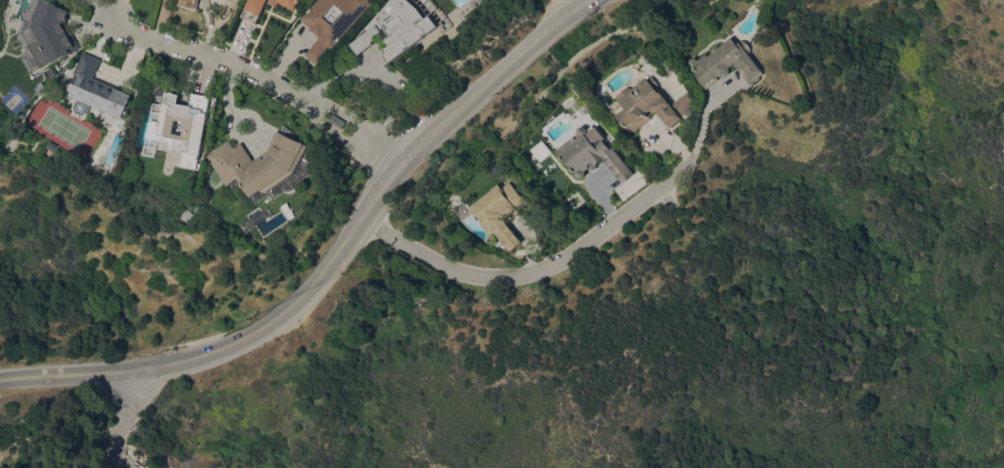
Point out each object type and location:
building: (188, 3)
building: (290, 3)
building: (256, 7)
road: (159, 19)
building: (332, 23)
building: (396, 28)
building: (51, 33)
road: (213, 56)
building: (728, 62)
road: (341, 72)
building: (98, 88)
building: (649, 104)
road: (339, 112)
building: (336, 121)
road: (700, 125)
building: (161, 127)
road: (327, 131)
building: (53, 146)
road: (381, 150)
building: (592, 155)
building: (259, 162)
road: (395, 169)
building: (501, 212)
road: (531, 272)
road: (112, 369)
road: (120, 418)

